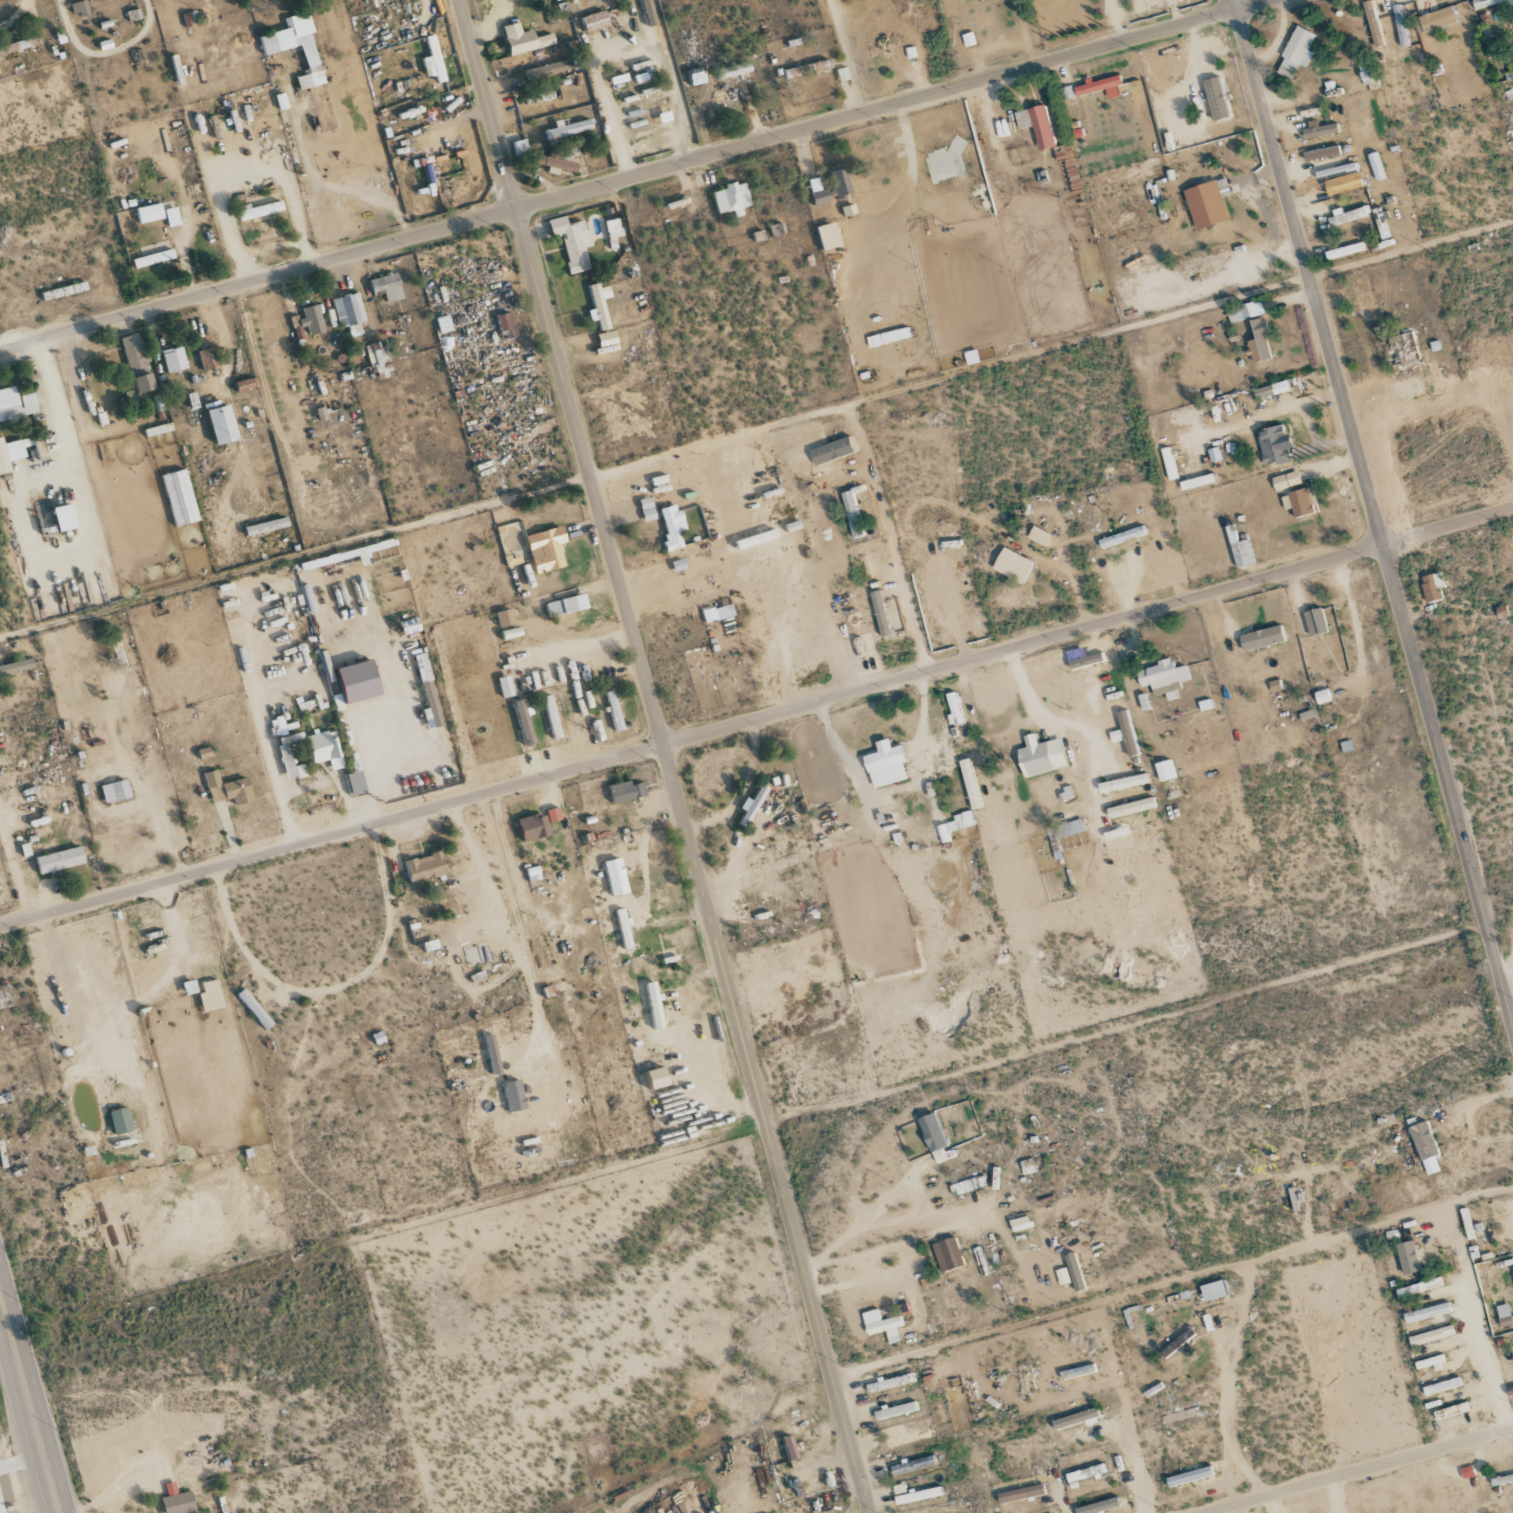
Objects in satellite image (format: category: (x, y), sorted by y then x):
building: (1492, 3)
building: (75, 9)
building: (644, 12)
building: (1436, 20)
building: (590, 21)
building: (1400, 26)
building: (518, 40)
building: (293, 47)
building: (881, 50)
building: (1296, 52)
road: (846, 57)
building: (429, 60)
building: (541, 70)
building: (729, 71)
building: (691, 78)
building: (1368, 78)
building: (1100, 86)
building: (536, 98)
building: (1215, 99)
building: (1036, 125)
building: (564, 129)
building: (1318, 130)
building: (516, 148)
building: (1321, 153)
building: (551, 163)
road: (637, 175)
building: (835, 184)
road: (336, 188)
building: (726, 199)
building: (1207, 203)
building: (255, 211)
building: (145, 213)
building: (1348, 215)
building: (168, 217)
building: (568, 242)
building: (1344, 251)
building: (148, 259)
building: (382, 288)
building: (595, 305)
building: (1245, 311)
building: (347, 313)
building: (308, 320)
building: (501, 325)
building: (601, 338)
building: (1259, 341)
building: (135, 355)
building: (207, 359)
building: (175, 360)
building: (146, 383)
building: (247, 385)
building: (1268, 390)
building: (16, 404)
building: (322, 414)
building: (224, 425)
building: (1273, 444)
building: (12, 453)
building: (1214, 454)
building: (1168, 463)
building: (1286, 480)
building: (1197, 481)
building: (181, 498)
building: (1298, 502)
building: (643, 509)
road: (1372, 511)
building: (852, 514)
building: (58, 519)
building: (667, 525)
building: (268, 526)
building: (1038, 535)
building: (1121, 537)
building: (541, 549)
building: (1012, 565)
building: (1432, 586)
building: (561, 606)
building: (714, 613)
building: (880, 613)
building: (500, 618)
building: (1314, 621)
building: (1262, 638)
building: (120, 653)
building: (1085, 661)
building: (17, 667)
building: (418, 667)
building: (1162, 677)
building: (350, 681)
building: (1322, 696)
building: (428, 704)
building: (953, 708)
building: (610, 710)
building: (548, 717)
road: (756, 719)
building: (520, 723)
road: (1083, 726)
building: (1124, 733)
building: (319, 748)
road: (663, 756)
building: (1040, 756)
building: (885, 764)
building: (284, 768)
road: (237, 769)
road: (270, 770)
building: (1164, 770)
road: (329, 780)
building: (351, 783)
building: (1123, 783)
building: (229, 790)
building: (622, 791)
building: (116, 792)
building: (749, 807)
building: (1130, 808)
building: (549, 814)
building: (955, 825)
building: (527, 827)
building: (1065, 830)
building: (61, 860)
building: (419, 867)
building: (610, 877)
building: (619, 929)
road: (258, 995)
building: (5, 999)
building: (256, 1009)
building: (488, 1055)
building: (649, 1078)
building: (121, 1121)
building: (931, 1132)
building: (1424, 1147)
building: (968, 1185)
building: (1020, 1223)
building: (1512, 1225)
building: (947, 1254)
building: (1407, 1257)
building: (1075, 1275)
building: (1423, 1285)
building: (1213, 1290)
building: (1426, 1312)
building: (1503, 1314)
building: (882, 1325)
building: (1431, 1335)
building: (1429, 1363)
building: (1441, 1386)
road: (31, 1396)
building: (895, 1410)
building: (1450, 1411)
building: (1075, 1419)
building: (904, 1437)
building: (784, 1447)
building: (912, 1465)
road: (1135, 1468)
road: (1358, 1471)
building: (1085, 1473)
building: (1189, 1476)
building: (1020, 1493)
building: (913, 1494)
building: (173, 1503)
building: (1098, 1506)
building: (954, 1512)

